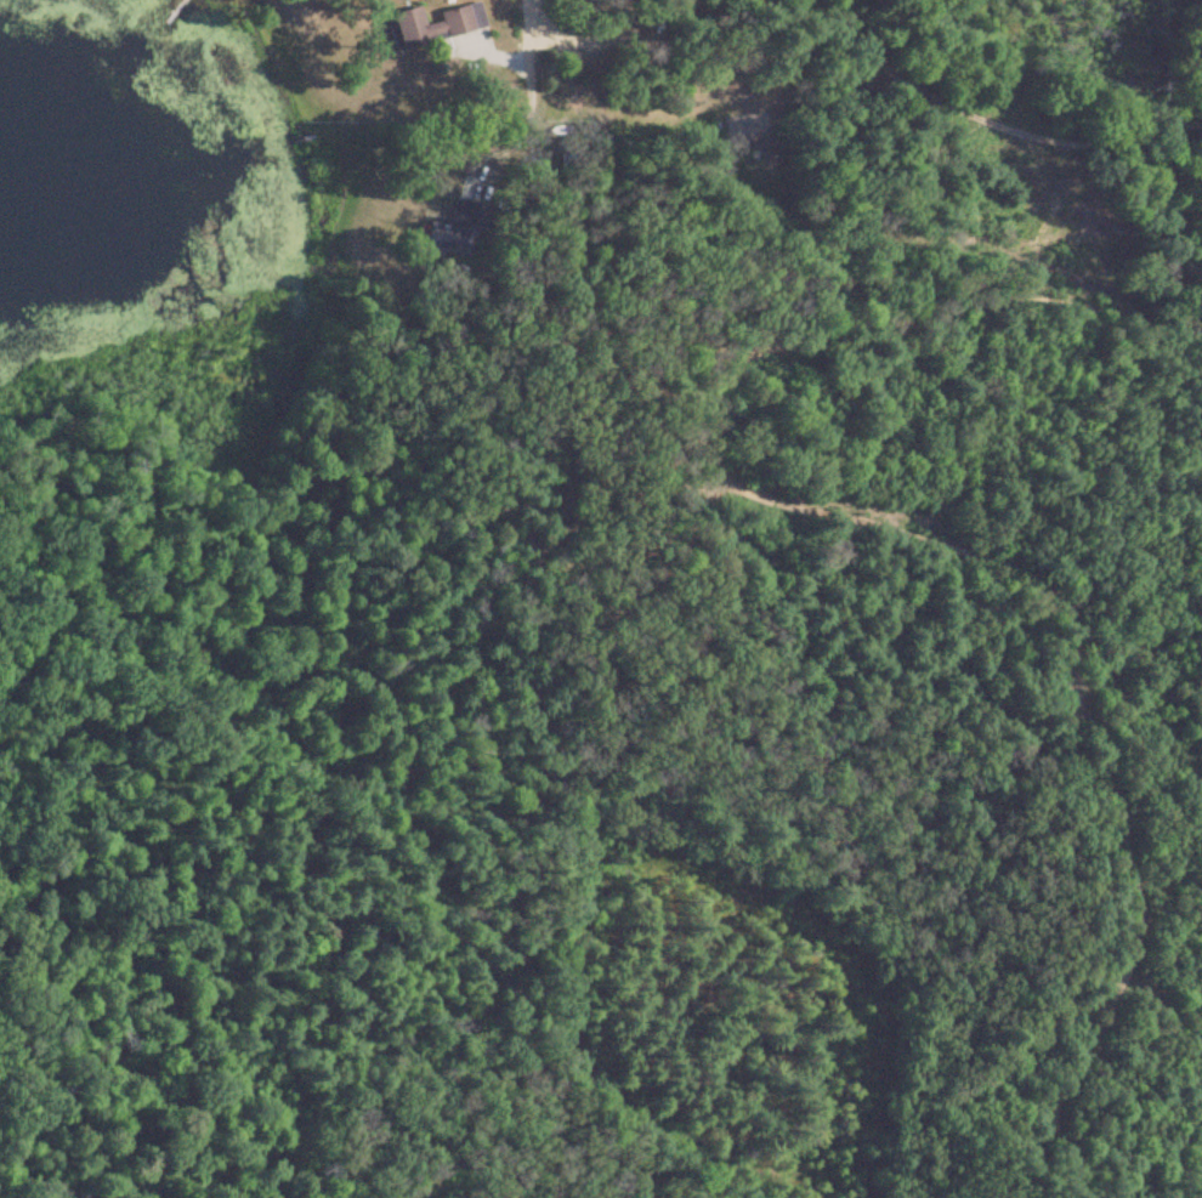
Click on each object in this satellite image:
building: (463, 21)
road: (529, 30)
road: (525, 127)
building: (466, 216)

